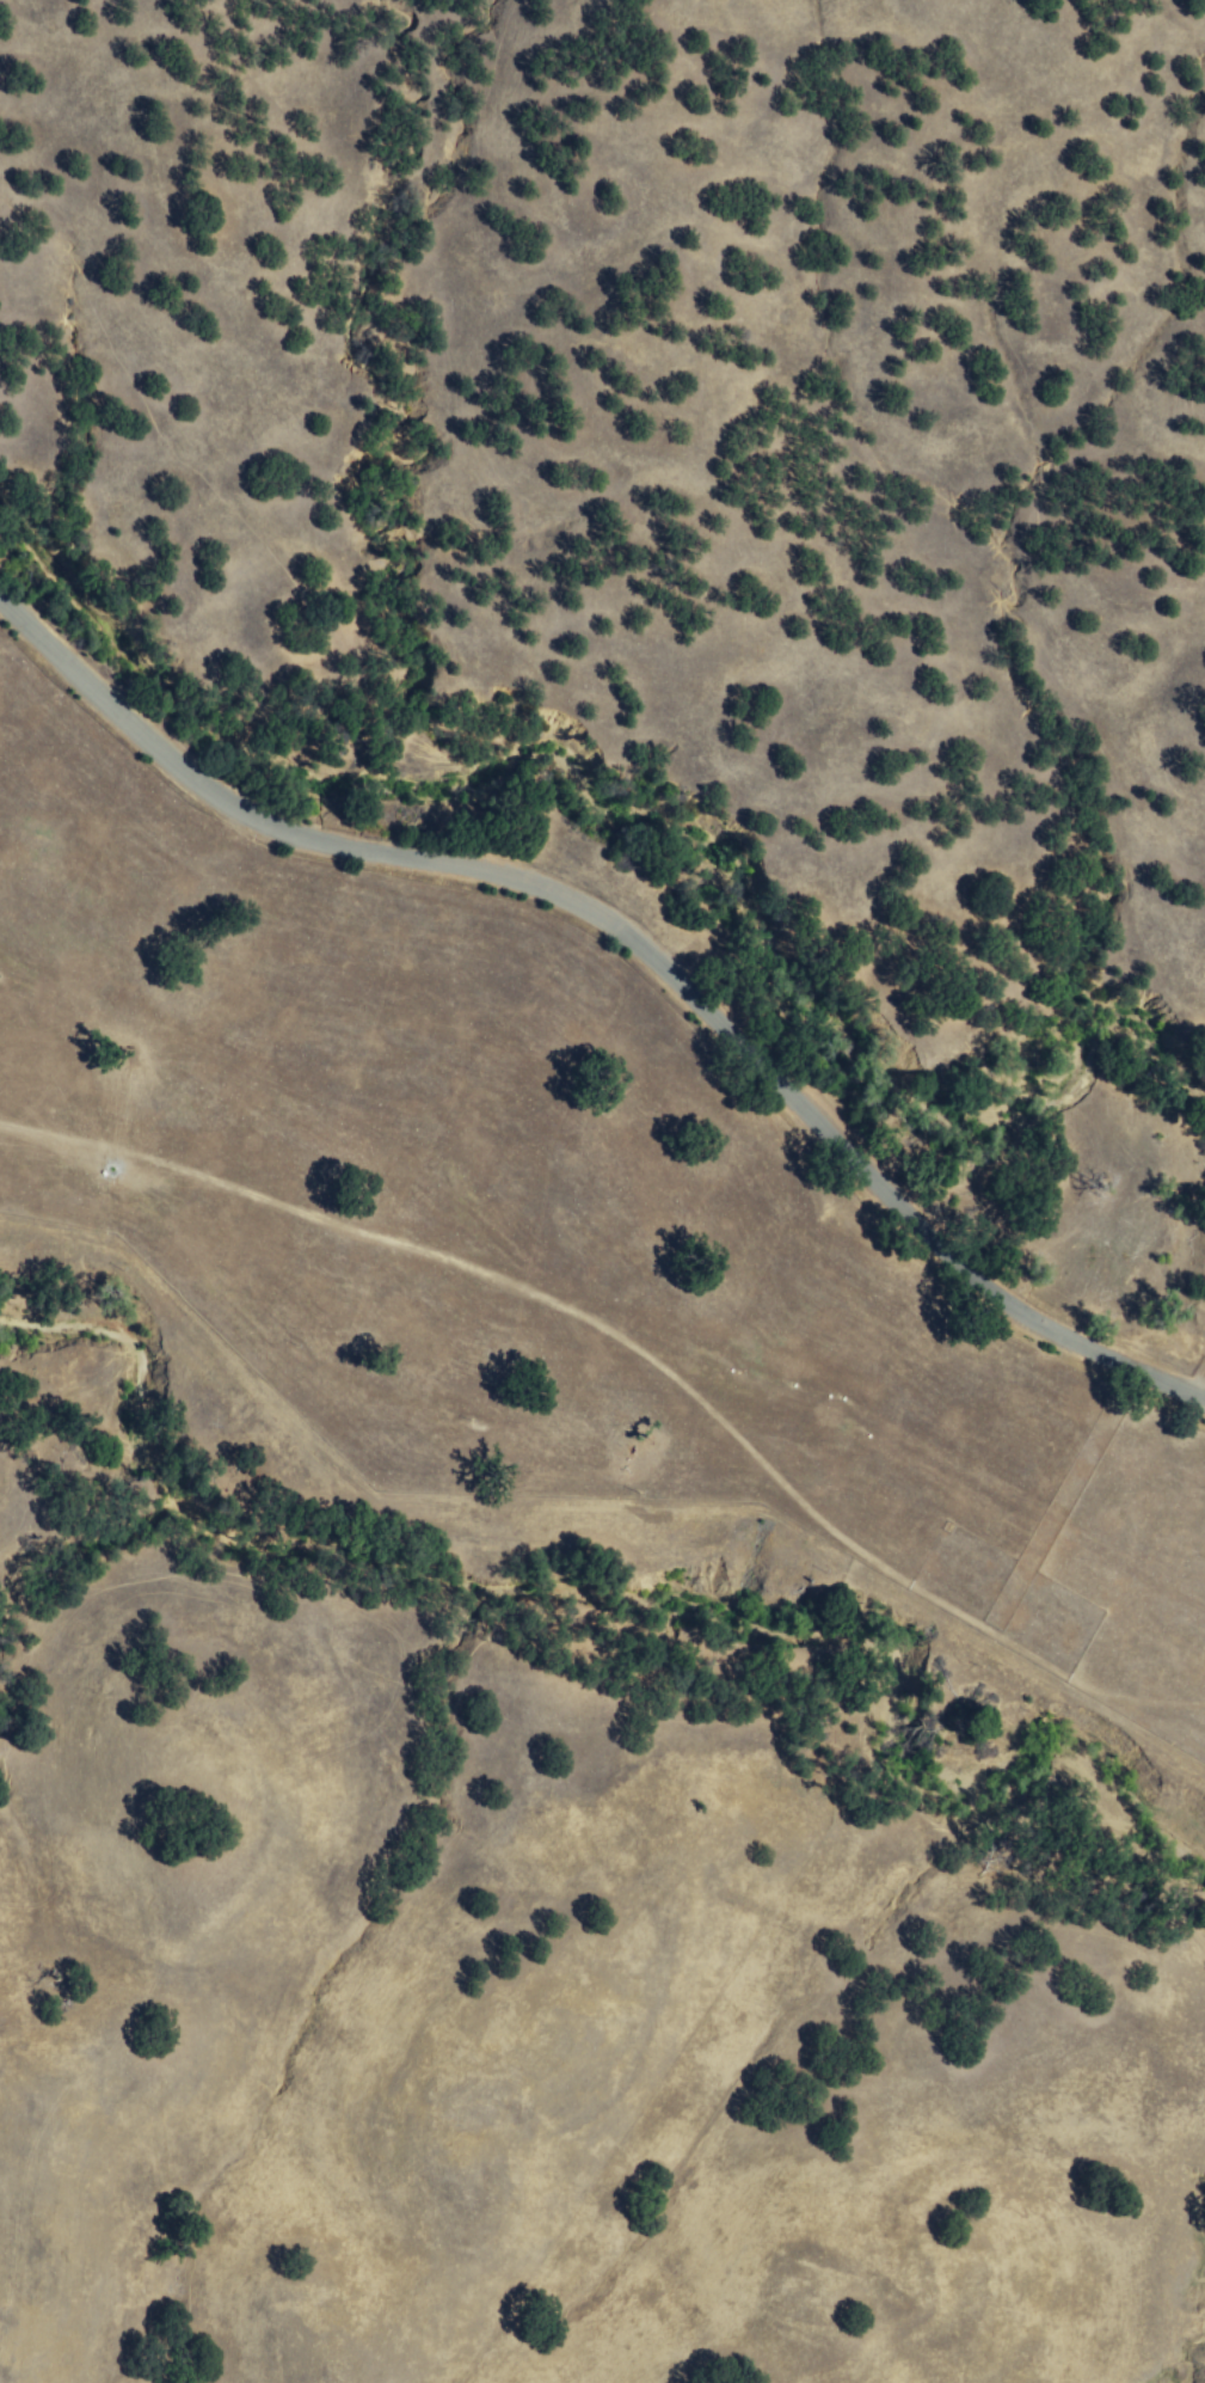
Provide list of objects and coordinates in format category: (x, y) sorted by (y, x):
river: (650, 821)
road: (633, 942)
road: (102, 1111)
road: (103, 1144)
crop: (537, 1219)
road: (717, 1362)
road: (1198, 1385)

